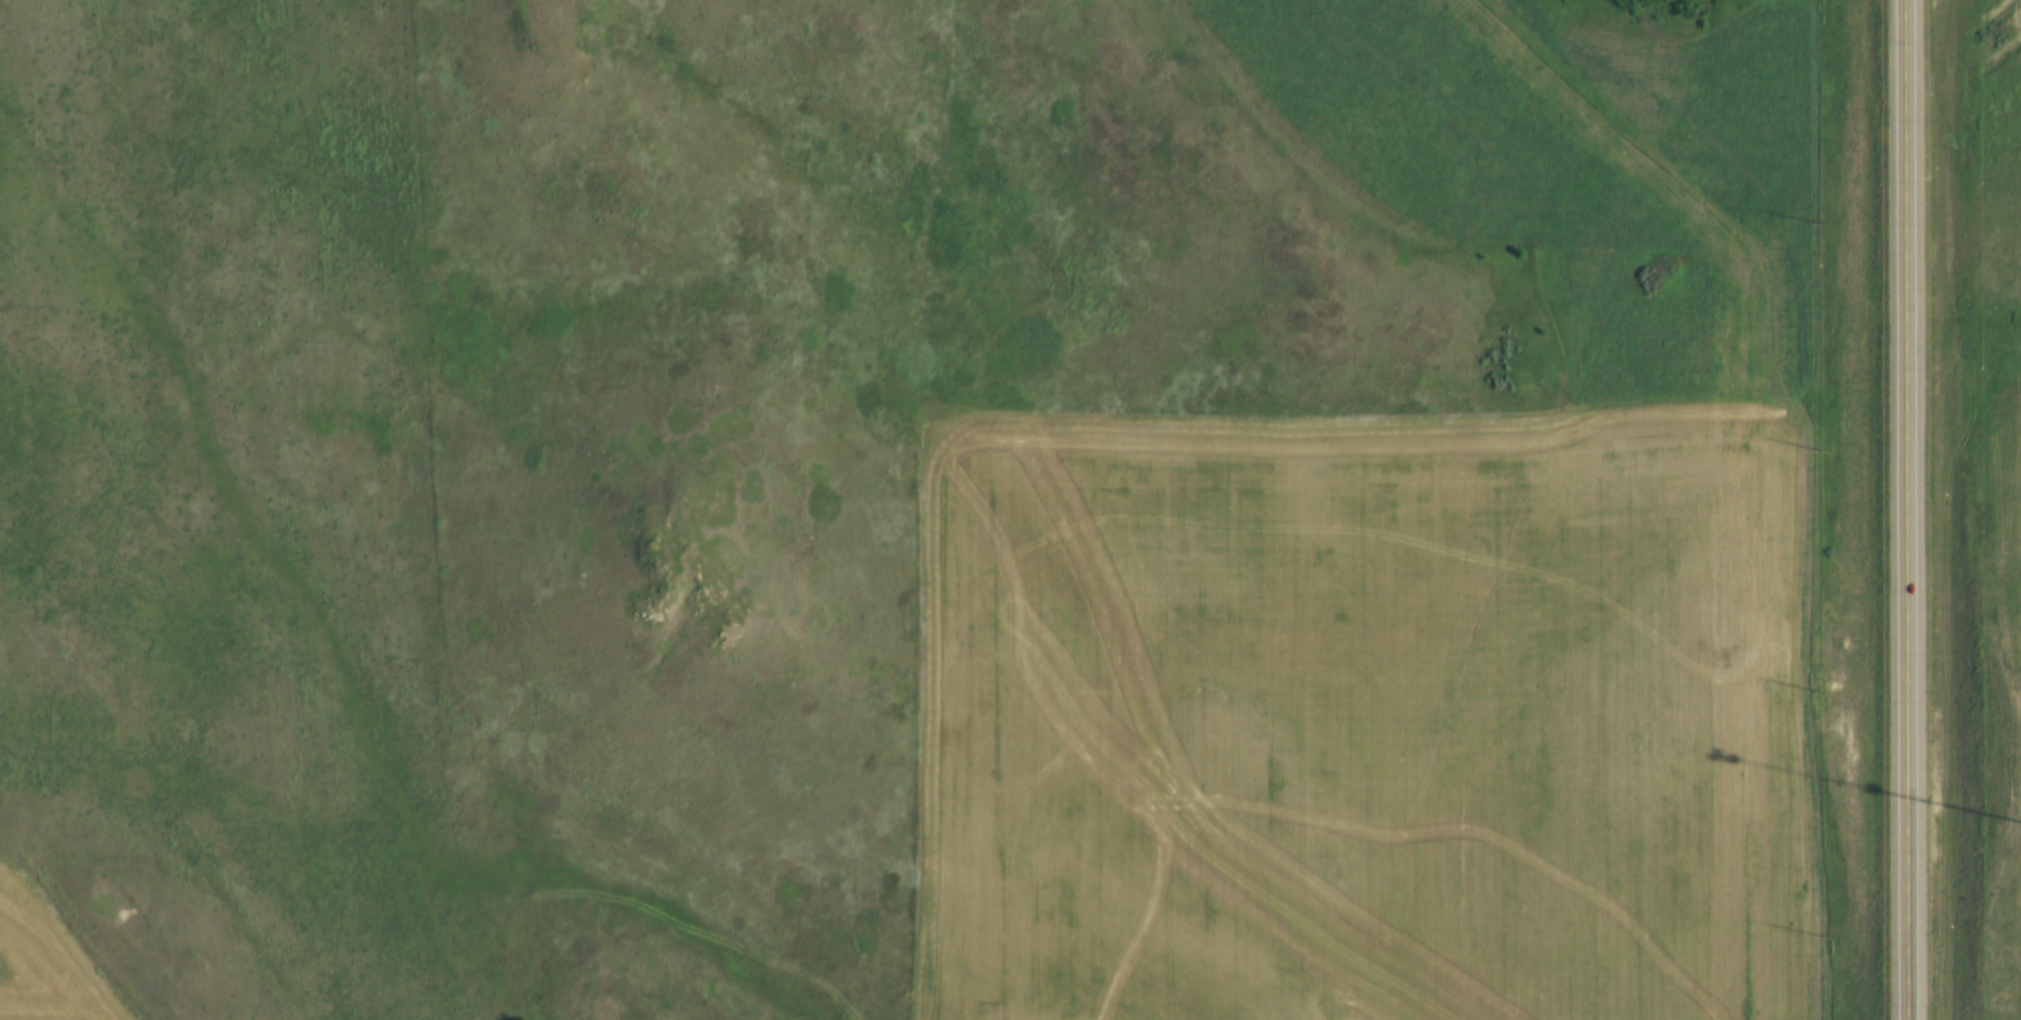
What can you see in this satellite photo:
road: (1910, 510)

